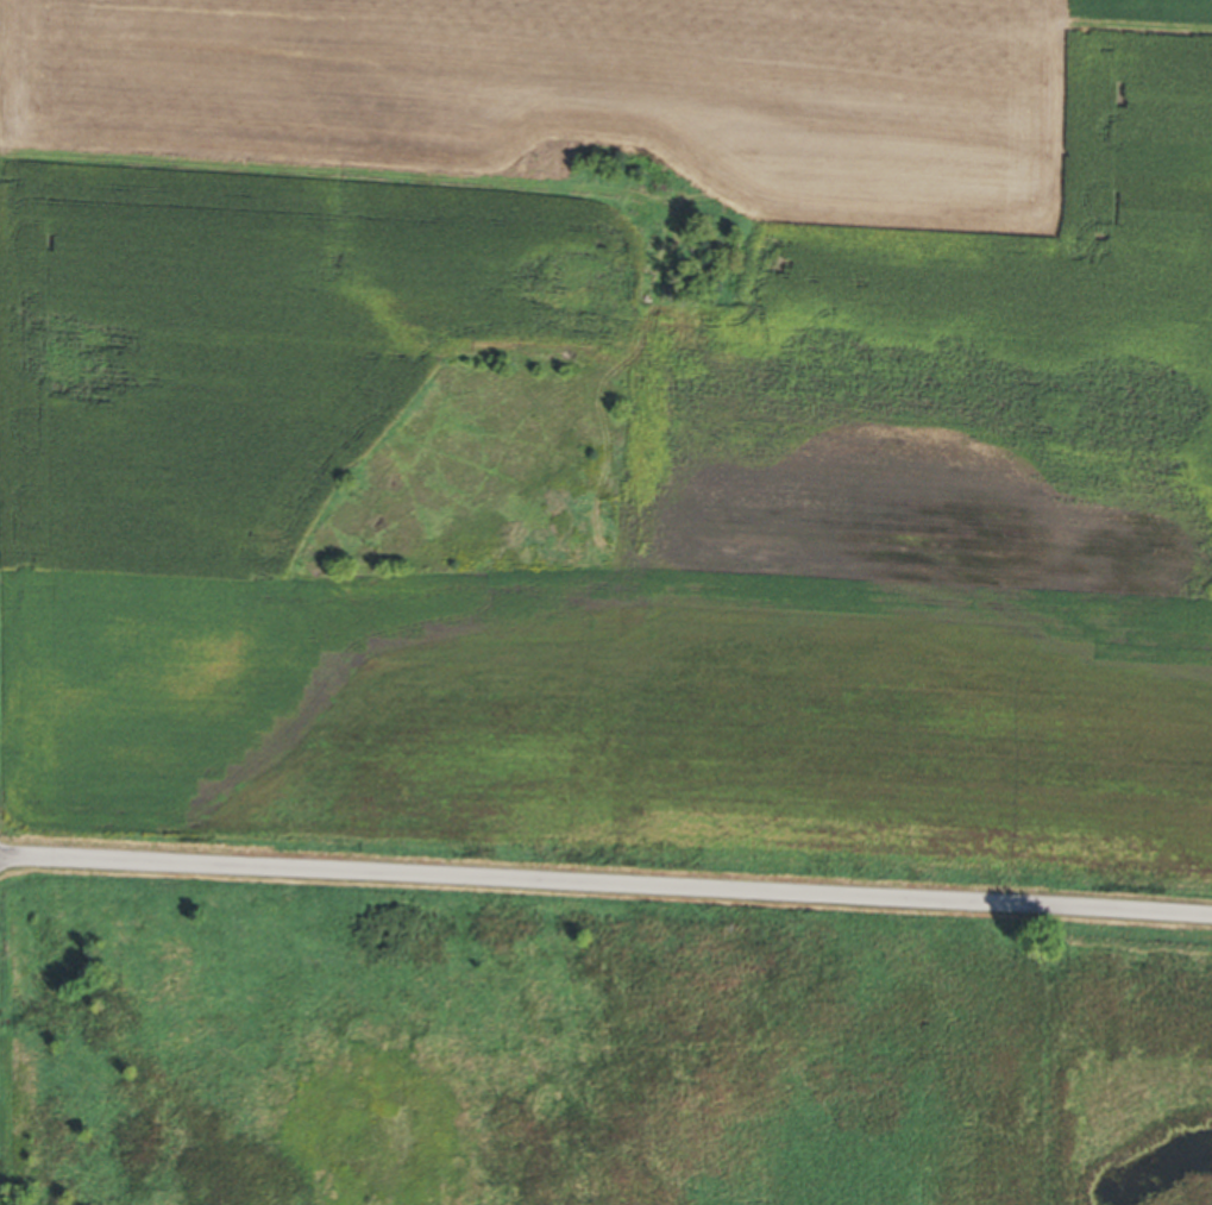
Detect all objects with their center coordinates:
road: (605, 884)

